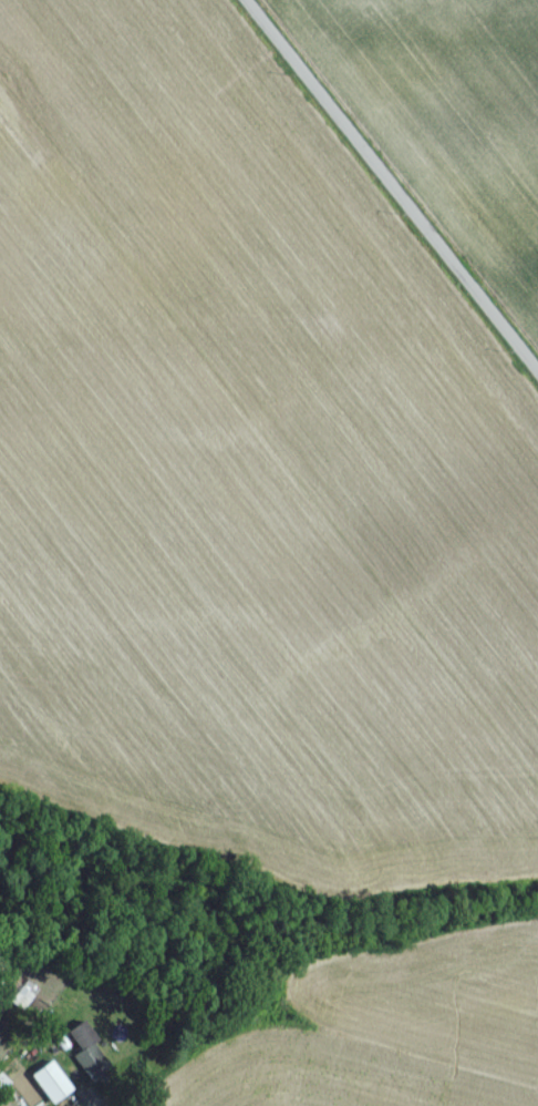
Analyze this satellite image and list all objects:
road: (386, 190)
building: (77, 1042)
building: (2, 1088)
building: (49, 1088)

